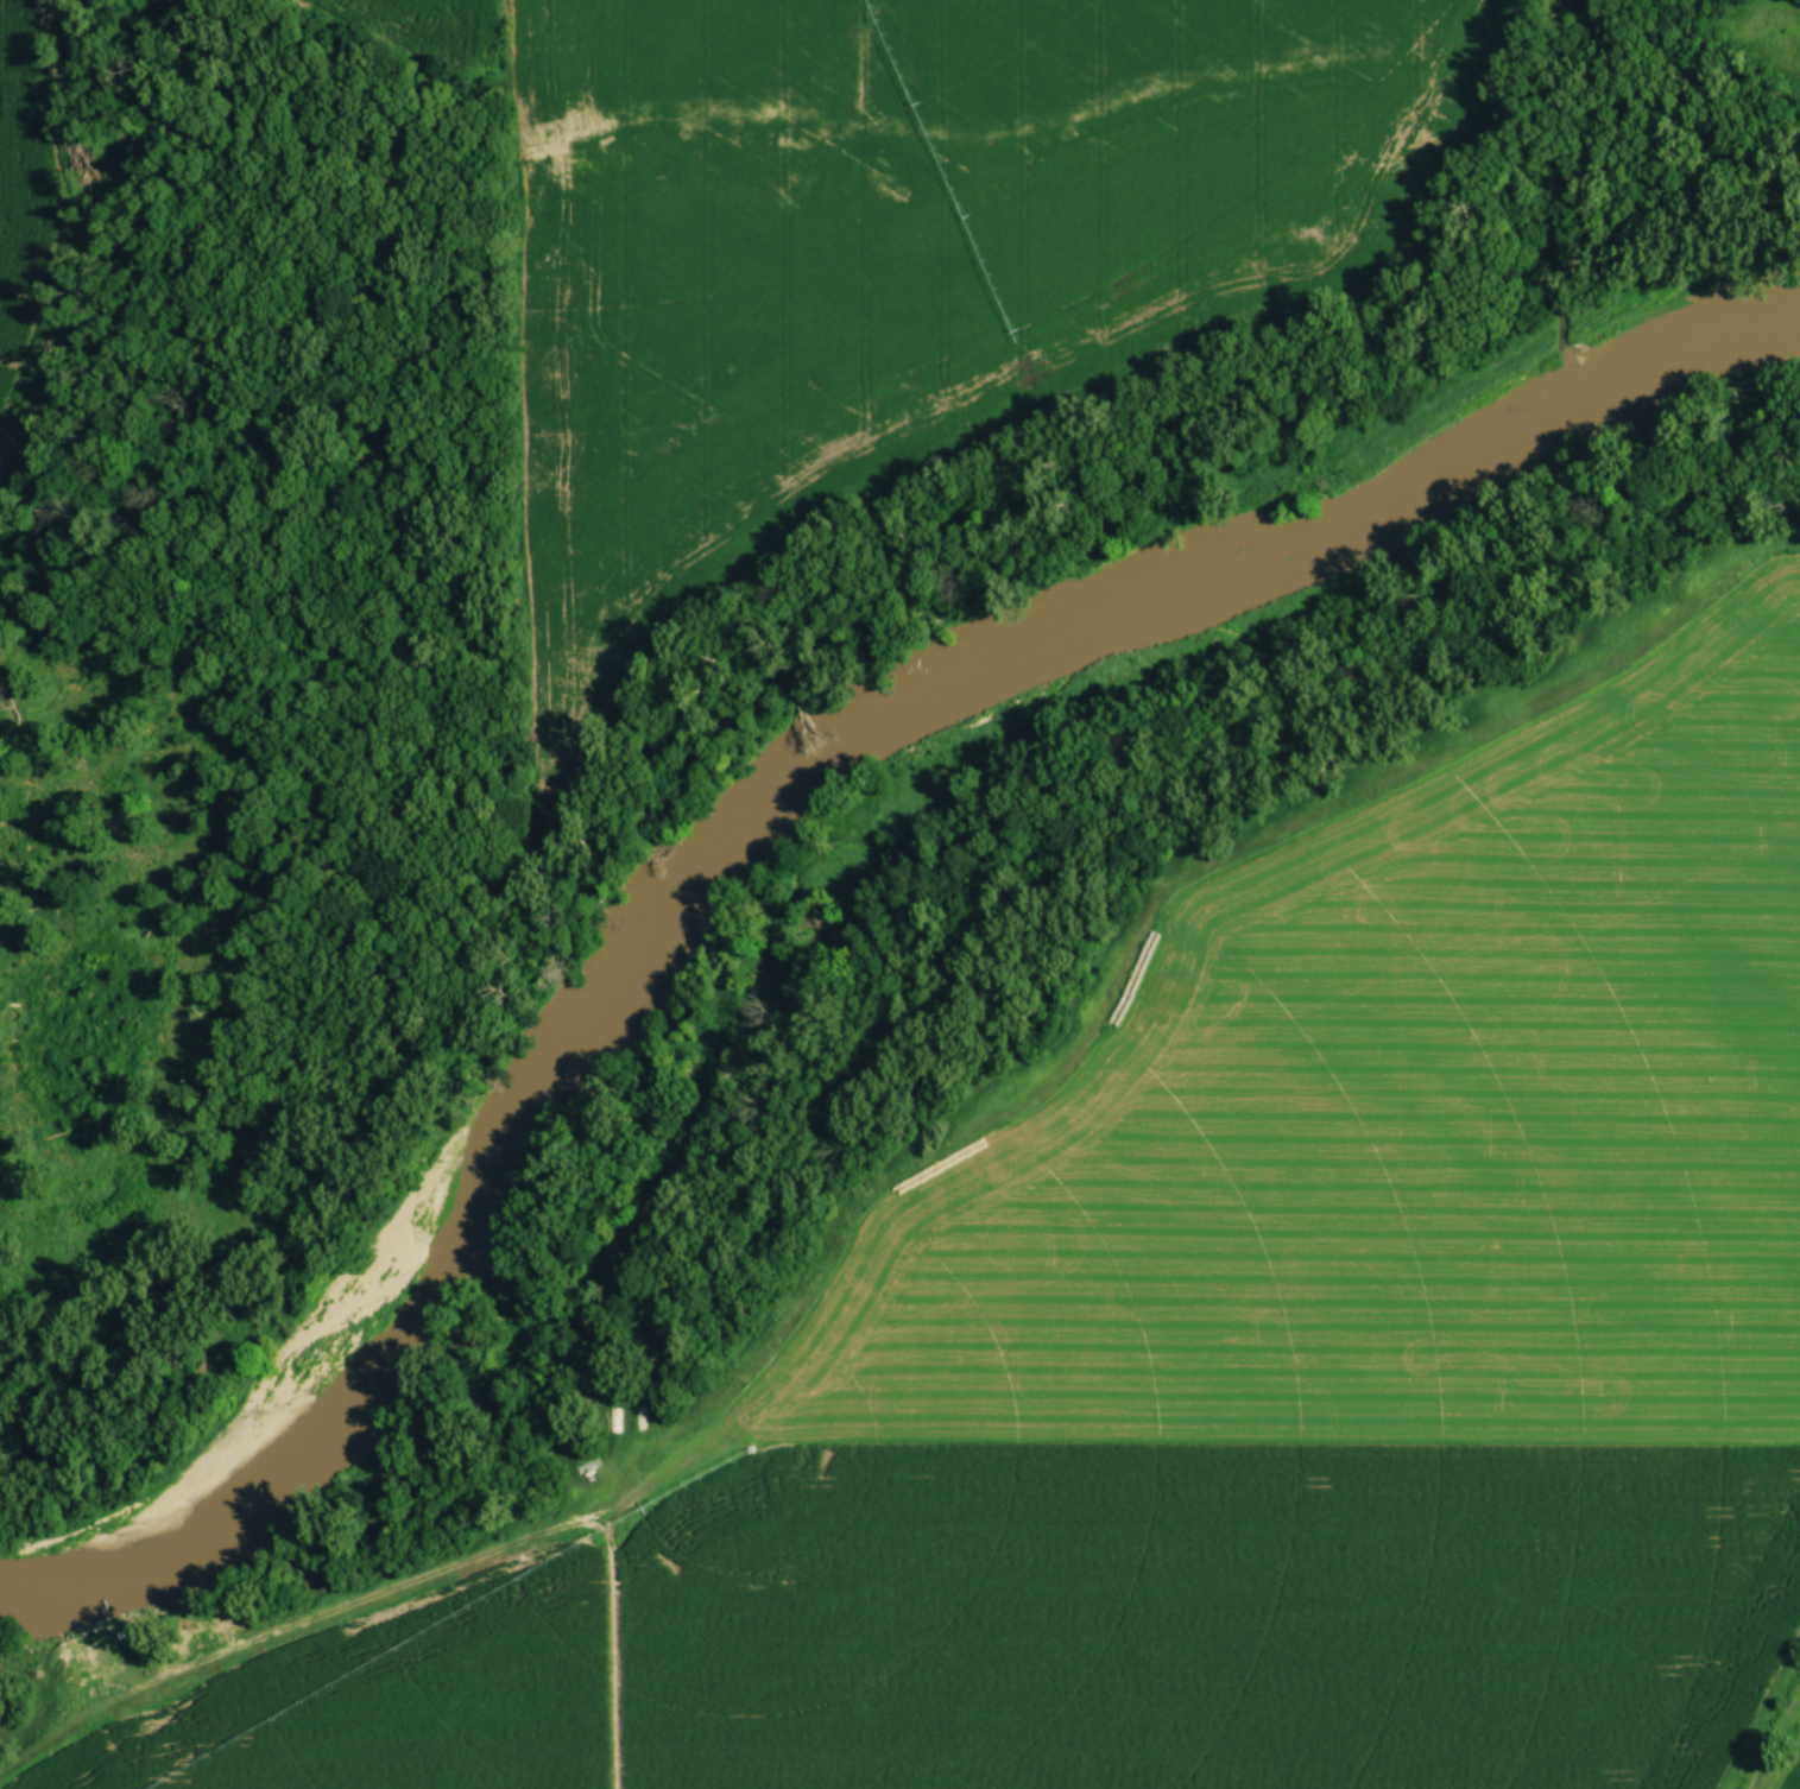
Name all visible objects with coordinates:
river: (782, 785)

